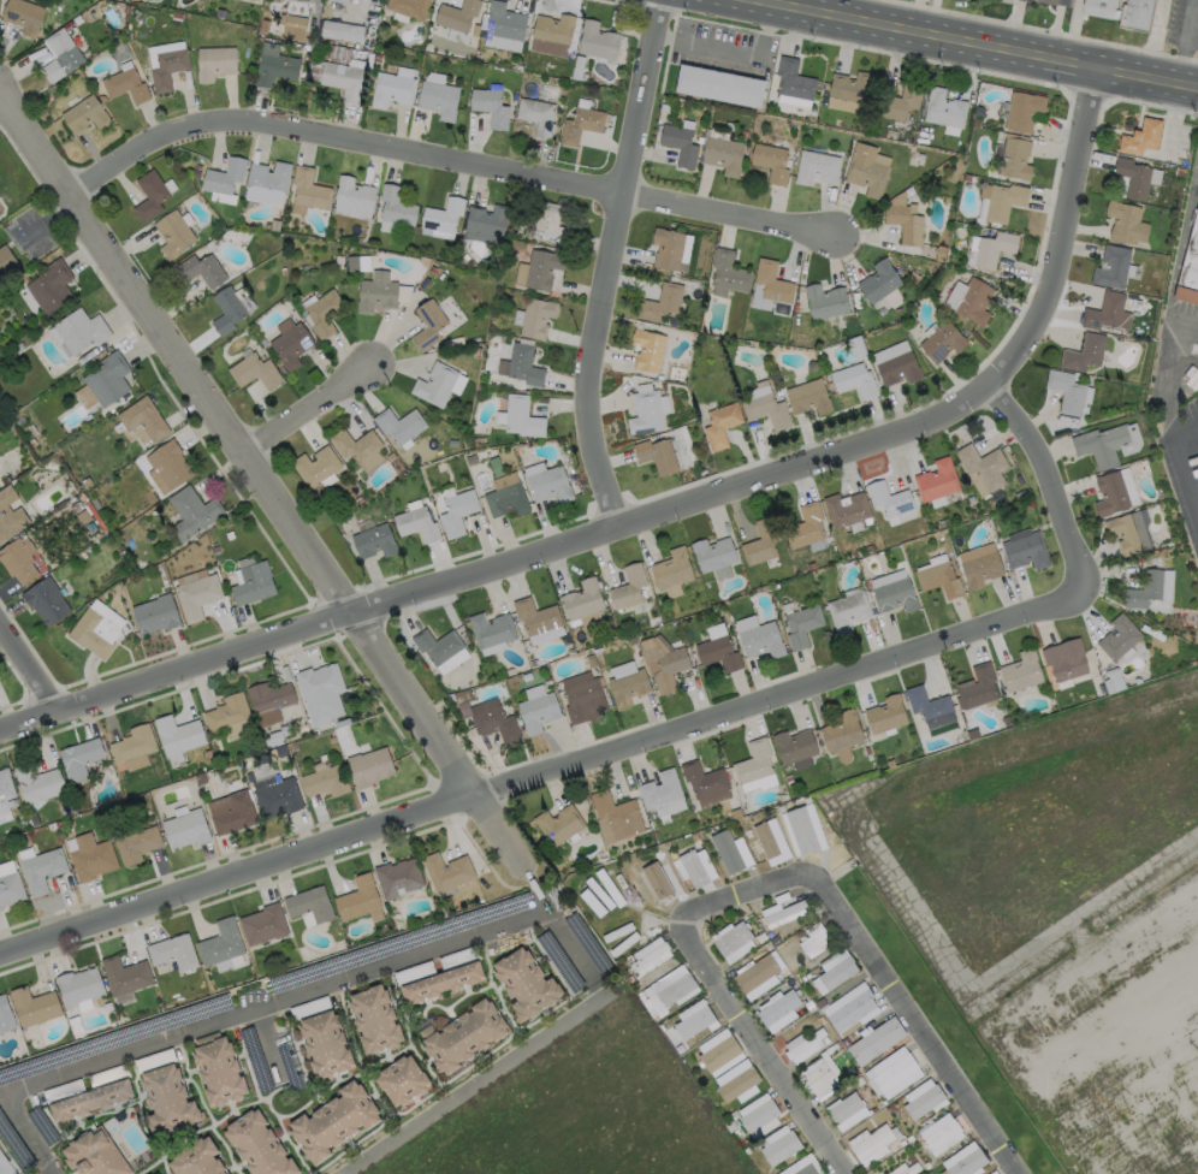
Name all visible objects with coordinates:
building: (343, 0)
road: (772, 1)
building: (1044, 1)
building: (408, 7)
building: (1095, 7)
building: (456, 14)
building: (1133, 14)
building: (22, 16)
building: (503, 22)
building: (295, 23)
building: (552, 28)
building: (340, 31)
building: (595, 40)
road: (977, 45)
building: (161, 51)
road: (734, 53)
building: (58, 54)
building: (213, 63)
building: (166, 69)
building: (274, 69)
building: (342, 79)
building: (793, 79)
building: (124, 85)
building: (718, 85)
building: (849, 87)
building: (391, 89)
building: (438, 99)
building: (900, 101)
building: (490, 107)
building: (943, 108)
building: (1021, 111)
building: (83, 115)
building: (535, 117)
building: (579, 124)
building: (1139, 137)
building: (678, 143)
building: (722, 155)
road: (443, 156)
building: (1014, 159)
building: (770, 162)
building: (814, 167)
building: (866, 170)
building: (223, 176)
building: (1132, 177)
building: (267, 178)
building: (308, 188)
building: (352, 195)
building: (148, 196)
building: (263, 196)
building: (1002, 201)
building: (395, 206)
building: (443, 215)
building: (486, 219)
building: (903, 221)
building: (1125, 223)
building: (550, 225)
building: (171, 235)
building: (990, 248)
building: (666, 249)
building: (6, 260)
road: (604, 262)
building: (1110, 267)
building: (540, 268)
building: (200, 269)
building: (728, 271)
building: (1190, 274)
building: (878, 280)
building: (772, 285)
building: (51, 286)
building: (375, 292)
building: (968, 300)
building: (824, 301)
building: (660, 303)
building: (225, 309)
building: (322, 313)
building: (1105, 313)
building: (535, 318)
building: (427, 325)
building: (81, 330)
building: (941, 342)
building: (290, 345)
building: (647, 350)
building: (1083, 352)
building: (522, 366)
building: (899, 368)
building: (254, 370)
road: (1182, 372)
building: (107, 379)
building: (854, 380)
building: (434, 385)
building: (1064, 391)
building: (806, 397)
road: (312, 408)
building: (764, 410)
building: (645, 413)
building: (521, 417)
building: (143, 419)
building: (399, 425)
building: (719, 425)
building: (1101, 444)
building: (355, 445)
building: (656, 456)
road: (1181, 459)
building: (168, 463)
building: (981, 464)
building: (315, 466)
parking lot: (1185, 467)
road: (256, 478)
building: (936, 480)
building: (547, 485)
building: (1109, 493)
building: (888, 498)
building: (505, 499)
building: (844, 509)
road: (658, 511)
building: (191, 512)
building: (456, 512)
building: (10, 514)
building: (416, 524)
building: (805, 526)
building: (1128, 530)
building: (373, 541)
building: (760, 541)
building: (1025, 551)
building: (711, 553)
building: (17, 561)
building: (979, 568)
building: (670, 569)
building: (938, 579)
building: (251, 583)
building: (627, 587)
building: (1143, 588)
building: (196, 595)
building: (894, 595)
building: (581, 599)
building: (45, 600)
building: (847, 611)
building: (154, 613)
building: (534, 616)
building: (801, 625)
building: (490, 629)
building: (714, 630)
building: (93, 633)
building: (1117, 636)
building: (760, 640)
building: (435, 645)
building: (717, 653)
building: (1064, 658)
building: (662, 665)
road: (26, 669)
building: (1020, 670)
building: (627, 687)
building: (977, 687)
building: (320, 693)
building: (268, 700)
building: (582, 700)
building: (926, 704)
building: (535, 712)
building: (884, 713)
building: (229, 716)
building: (494, 723)
building: (841, 731)
building: (177, 734)
road: (652, 736)
building: (132, 743)
building: (794, 747)
building: (78, 758)
building: (369, 766)
building: (754, 766)
building: (702, 778)
building: (325, 781)
building: (5, 783)
building: (36, 783)
building: (660, 794)
building: (278, 798)
building: (235, 813)
building: (613, 817)
building: (557, 824)
building: (185, 828)
building: (800, 830)
building: (764, 840)
building: (135, 844)
building: (725, 850)
building: (90, 856)
building: (692, 868)
building: (41, 870)
building: (446, 872)
building: (397, 878)
building: (656, 880)
road: (770, 882)
building: (10, 888)
road: (534, 888)
building: (357, 899)
building: (309, 905)
building: (0, 908)
building: (783, 912)
building: (262, 924)
building: (730, 938)
building: (811, 939)
building: (221, 944)
building: (172, 951)
road: (571, 954)
building: (647, 956)
building: (836, 972)
building: (754, 973)
building: (124, 974)
building: (441, 982)
building: (523, 983)
building: (79, 988)
building: (675, 989)
building: (32, 1006)
building: (777, 1006)
building: (847, 1006)
building: (5, 1015)
road: (232, 1015)
building: (373, 1019)
building: (693, 1022)
building: (462, 1036)
road: (266, 1039)
building: (874, 1040)
building: (803, 1043)
building: (324, 1044)
building: (718, 1054)
building: (217, 1069)
building: (892, 1073)
building: (817, 1077)
building: (399, 1080)
building: (736, 1084)
road: (474, 1085)
building: (166, 1099)
building: (89, 1101)
building: (921, 1102)
building: (842, 1108)
building: (758, 1116)
building: (332, 1121)
building: (941, 1134)
building: (872, 1142)
building: (257, 1145)
building: (777, 1145)
building: (94, 1154)
building: (196, 1158)
building: (966, 1163)
building: (5, 1166)
building: (805, 1169)
building: (909, 1169)
building: (156, 1173)
building: (225, 1173)
building: (992, 1173)

